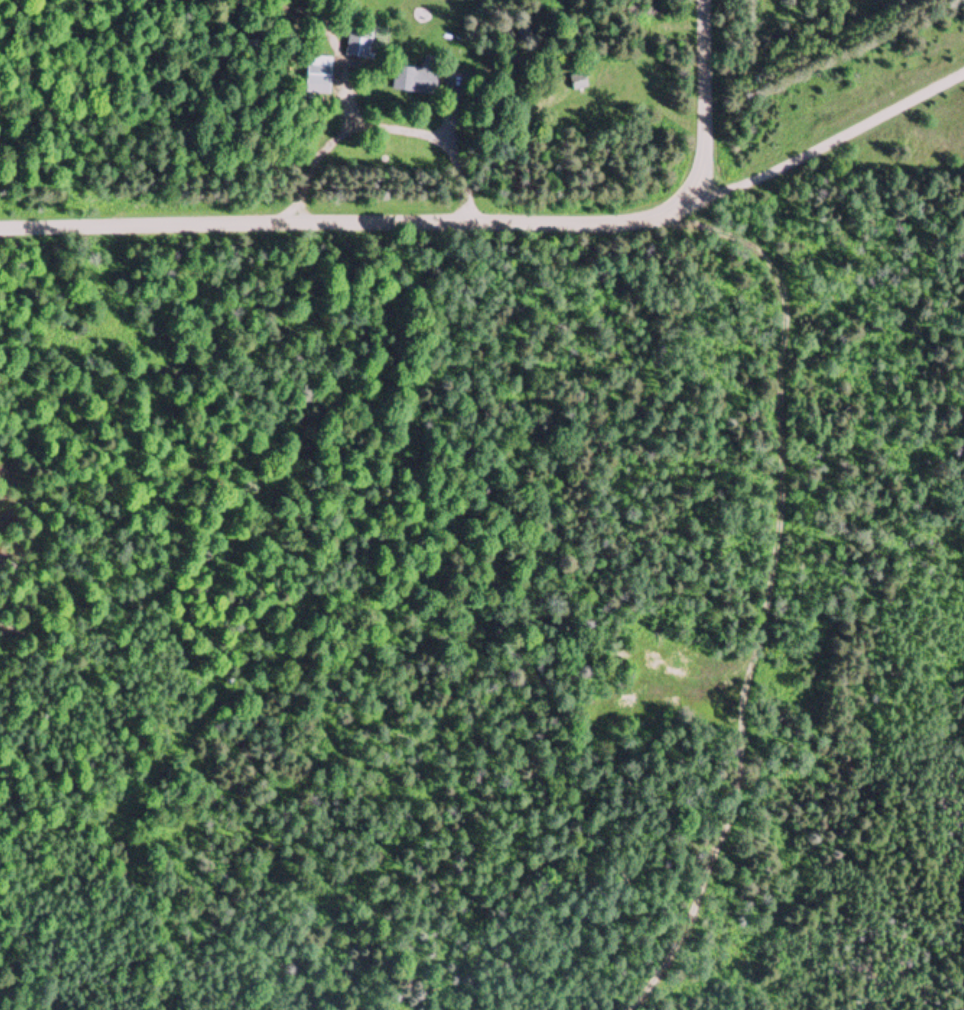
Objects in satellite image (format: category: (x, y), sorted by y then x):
building: (359, 42)
road: (337, 46)
building: (319, 75)
building: (406, 81)
building: (579, 83)
road: (706, 98)
road: (385, 125)
road: (830, 142)
road: (349, 222)
road: (781, 398)

